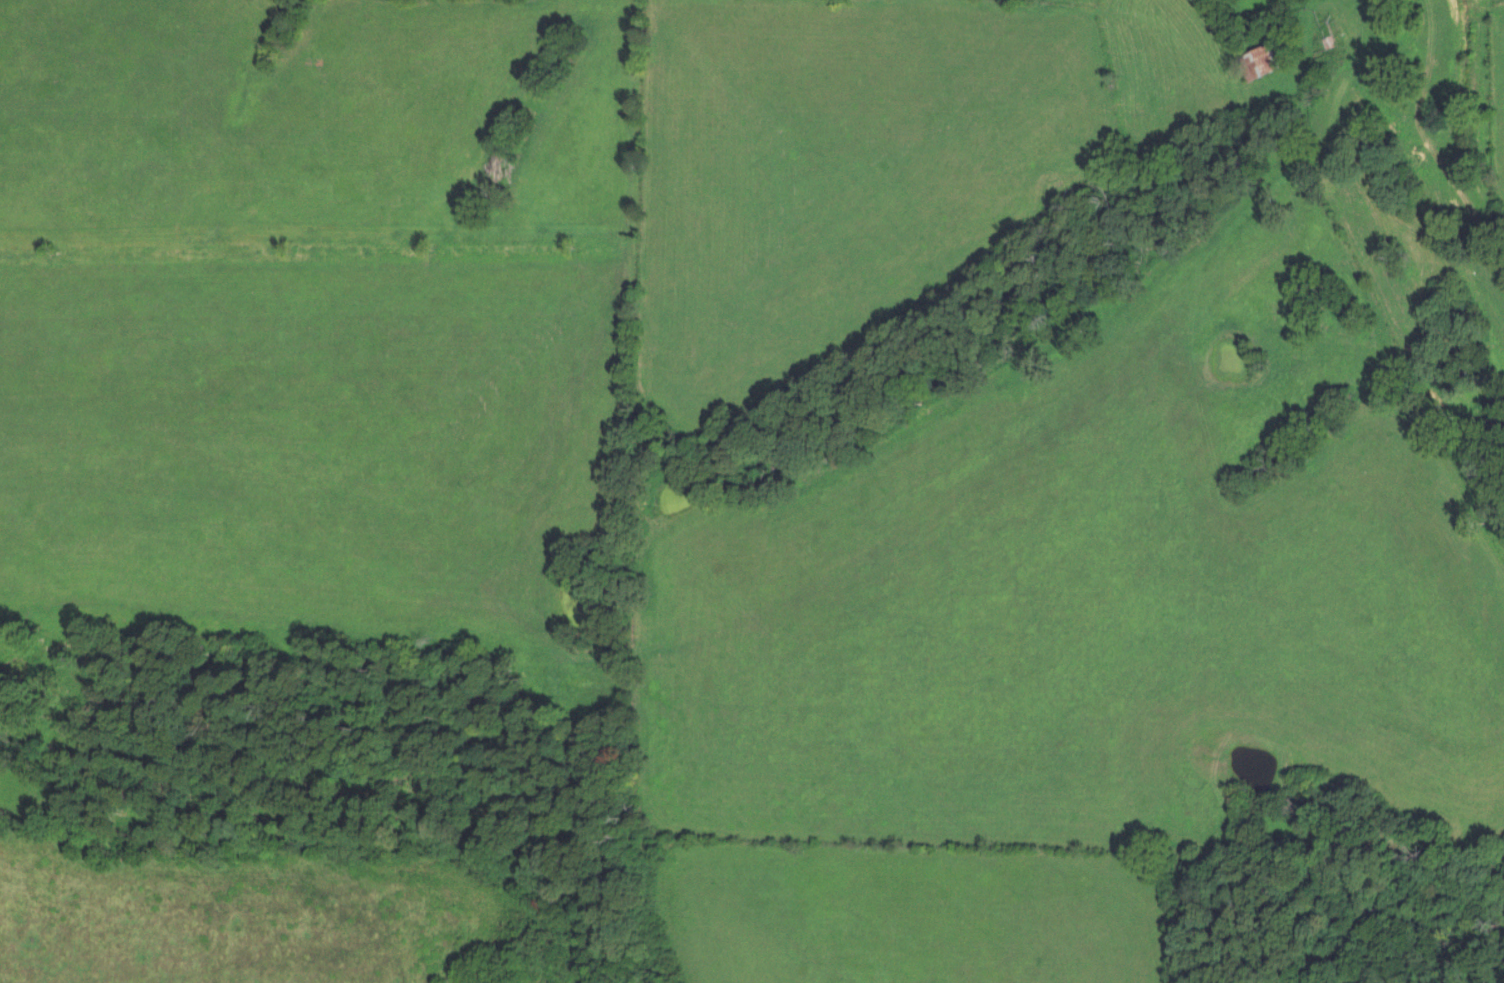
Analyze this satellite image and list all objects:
road: (1299, 53)
building: (1261, 65)

